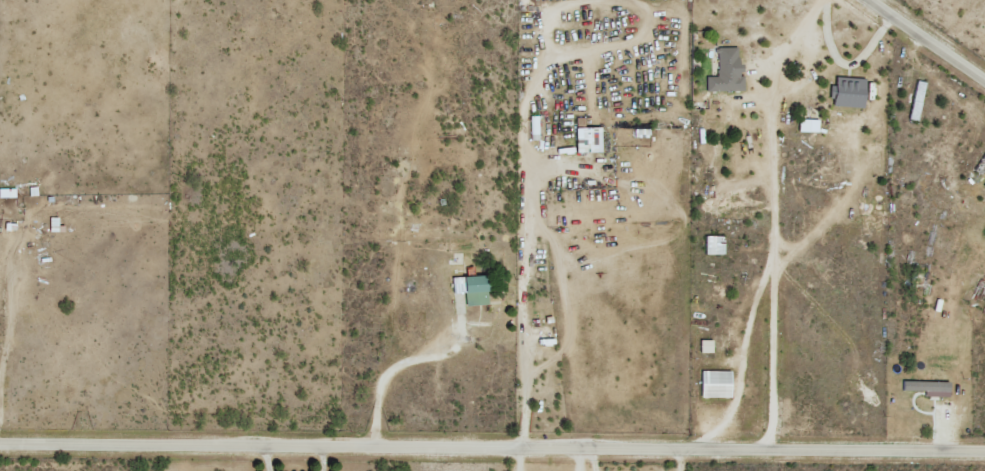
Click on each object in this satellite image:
road: (931, 39)
building: (727, 72)
building: (848, 93)
building: (808, 126)
building: (588, 140)
building: (984, 189)
building: (7, 193)
building: (714, 245)
building: (472, 289)
building: (706, 346)
building: (715, 384)
building: (928, 388)
road: (492, 449)

